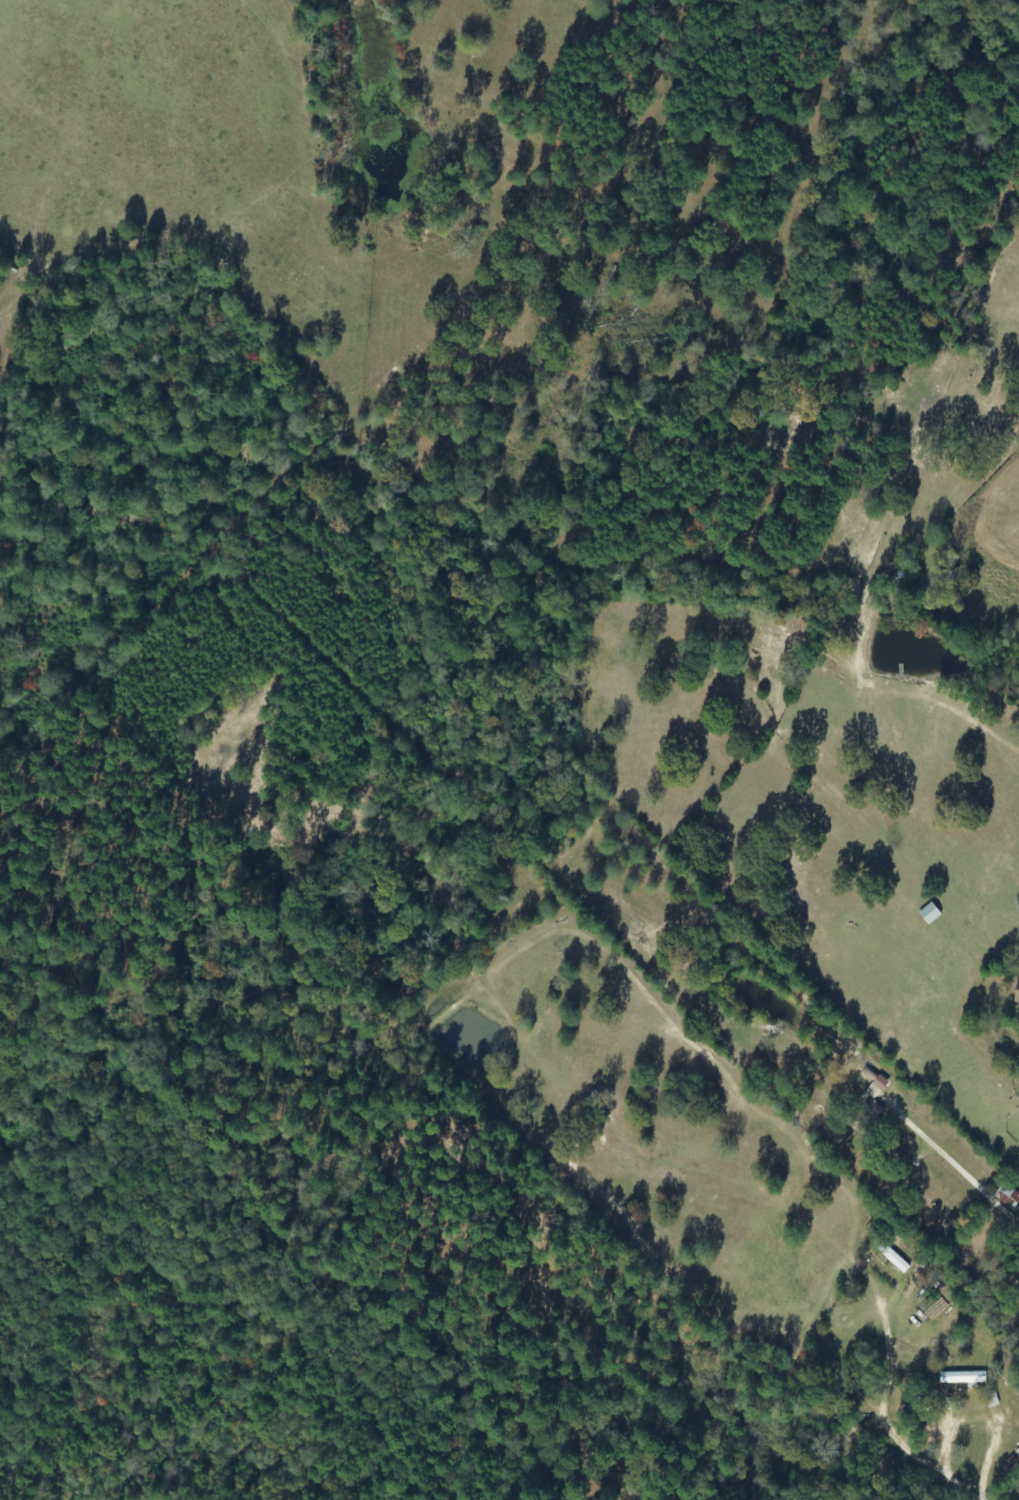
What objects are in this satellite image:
building: (929, 915)
building: (1017, 988)
building: (868, 1108)
building: (1006, 1198)
building: (964, 1379)
building: (992, 1401)

